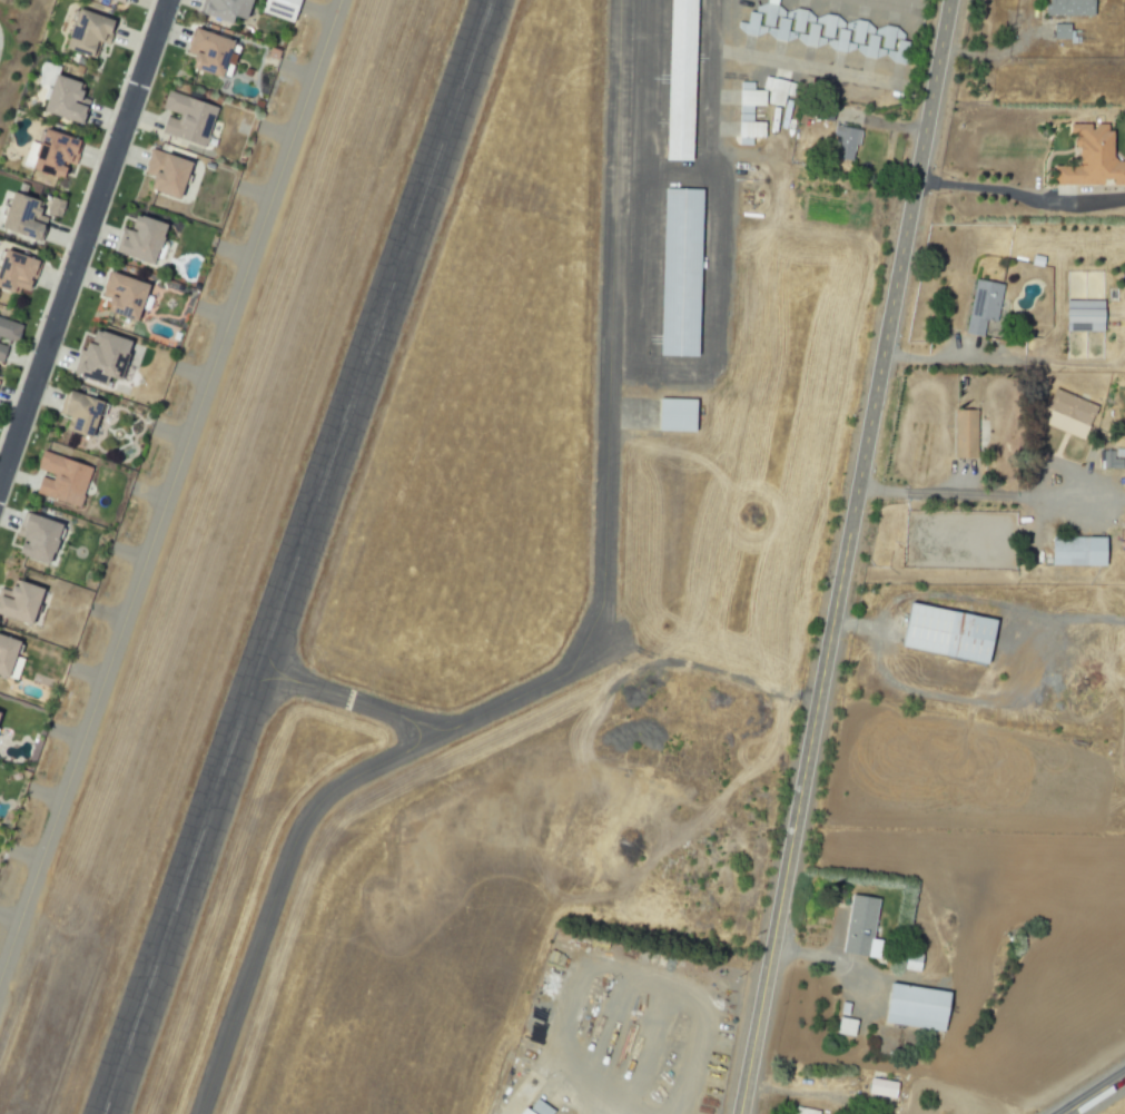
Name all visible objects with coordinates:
building: (120, 1)
road: (896, 3)
road: (150, 6)
building: (1066, 8)
building: (227, 9)
building: (287, 9)
airport hangar: (769, 14)
building: (769, 14)
airport hangar: (799, 19)
building: (799, 19)
airport hangar: (829, 24)
building: (829, 24)
road: (719, 27)
airport hangar: (752, 27)
building: (752, 27)
airport hangar: (859, 30)
building: (859, 30)
building: (1058, 31)
airport hangar: (781, 32)
building: (781, 32)
building: (88, 33)
road: (170, 33)
airport hangar: (889, 36)
building: (889, 36)
airport hangar: (811, 39)
building: (811, 39)
road: (135, 41)
airport hangar: (841, 43)
building: (841, 43)
airport hangar: (870, 49)
building: (870, 49)
building: (209, 55)
airport hangar: (900, 57)
building: (900, 57)
park: (17, 67)
road: (810, 69)
airport hangar: (683, 82)
building: (683, 82)
airport hangar: (780, 90)
building: (780, 90)
airport hangar: (750, 99)
building: (750, 99)
building: (65, 100)
road: (142, 116)
building: (188, 119)
road: (109, 121)
airport hangar: (749, 134)
building: (749, 134)
airport hangar: (845, 141)
building: (845, 141)
building: (52, 155)
road: (128, 156)
road: (97, 159)
building: (1088, 159)
building: (166, 175)
road: (1019, 194)
building: (22, 219)
road: (105, 233)
airport hangar: (754, 237)
building: (754, 237)
road: (66, 238)
building: (141, 241)
road: (85, 246)
building: (14, 274)
road: (88, 276)
airport hangar: (684, 277)
building: (684, 277)
road: (55, 280)
building: (124, 298)
building: (980, 308)
building: (1080, 316)
building: (9, 332)
building: (2, 355)
road: (62, 355)
road: (940, 355)
road: (27, 359)
building: (102, 361)
building: (0, 382)
road: (48, 395)
road: (14, 401)
building: (671, 414)
building: (1065, 414)
building: (80, 415)
building: (963, 433)
building: (1108, 461)
airport taxiway: (165, 472)
road: (21, 479)
building: (63, 479)
road: (1, 485)
road: (978, 493)
airport taxiway: (175, 504)
road: (10, 519)
building: (38, 538)
building: (1074, 551)
airport runway: (276, 556)
airport runway: (318, 556)
road: (845, 556)
airport: (474, 573)
building: (20, 602)
building: (949, 633)
airport taxiway: (633, 651)
building: (7, 654)
airport taxiway: (396, 702)
building: (859, 927)
building: (910, 960)
road: (841, 967)
building: (911, 1007)
building: (843, 1026)
building: (879, 1087)
road: (1095, 1094)
building: (803, 1111)
building: (526, 1112)
crop: (1124, 1113)

